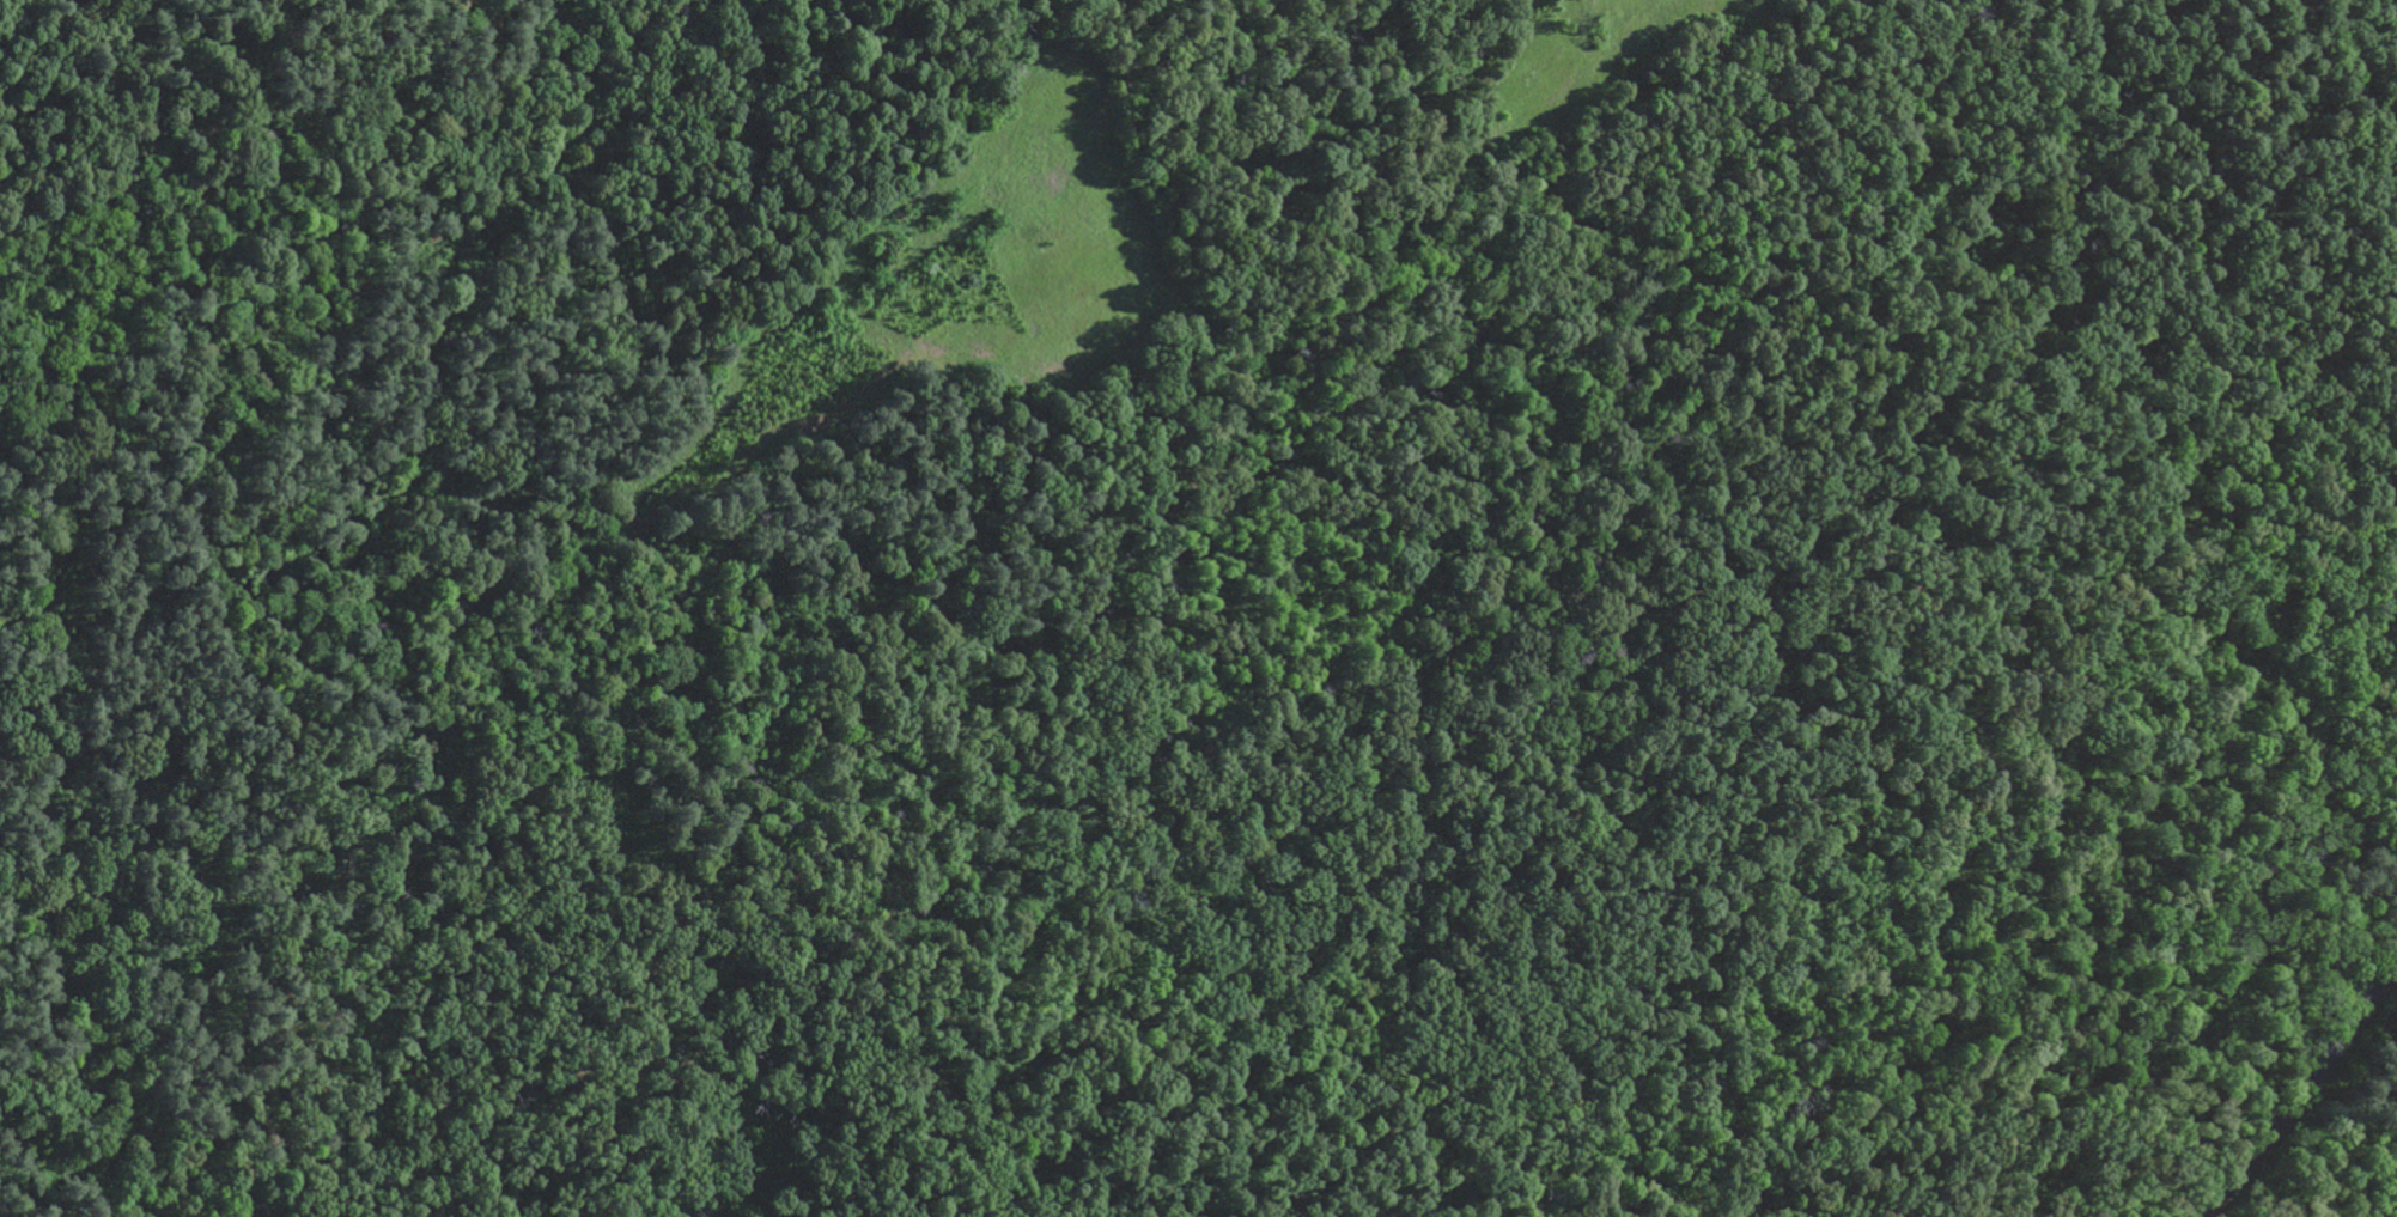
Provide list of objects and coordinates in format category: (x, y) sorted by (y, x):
road: (2299, 1091)

